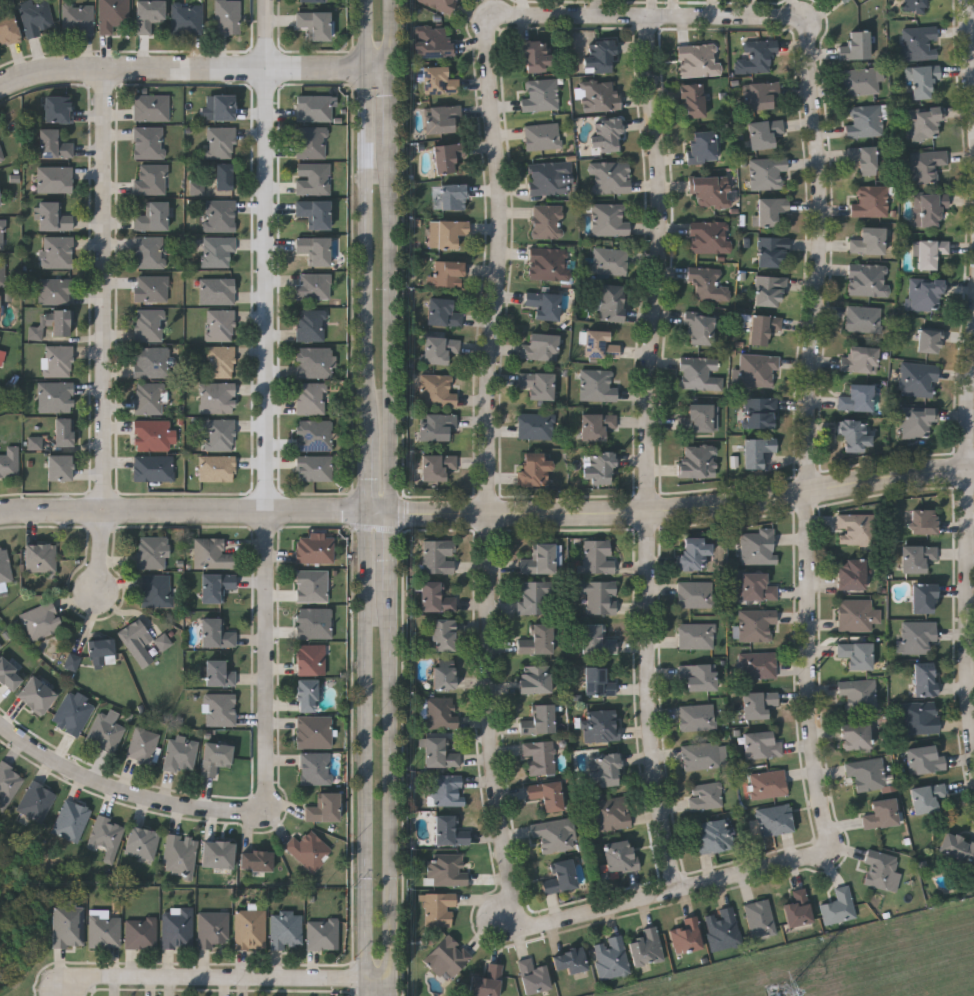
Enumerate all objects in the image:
building: (311, 0)
building: (845, 1)
building: (442, 4)
building: (915, 6)
building: (148, 14)
building: (113, 15)
building: (36, 16)
building: (228, 16)
building: (78, 18)
building: (187, 18)
road: (972, 20)
building: (315, 24)
road: (971, 27)
building: (8, 28)
road: (393, 35)
building: (434, 42)
building: (920, 43)
building: (857, 46)
building: (537, 54)
building: (602, 56)
building: (757, 56)
building: (699, 60)
road: (194, 70)
building: (440, 80)
building: (924, 80)
building: (862, 81)
building: (761, 94)
building: (541, 95)
building: (600, 95)
building: (695, 100)
building: (151, 107)
building: (224, 107)
building: (58, 108)
building: (315, 108)
road: (393, 110)
building: (442, 117)
building: (866, 120)
building: (925, 124)
building: (766, 132)
building: (607, 135)
building: (543, 136)
building: (221, 141)
building: (149, 142)
building: (312, 142)
building: (54, 144)
building: (703, 146)
building: (1, 155)
building: (449, 156)
building: (864, 158)
building: (927, 165)
building: (769, 172)
building: (224, 176)
building: (611, 177)
building: (314, 178)
building: (551, 178)
building: (55, 179)
building: (151, 179)
building: (198, 186)
building: (711, 191)
building: (455, 197)
building: (0, 198)
building: (871, 201)
building: (929, 208)
building: (771, 210)
building: (315, 212)
building: (220, 216)
building: (53, 217)
building: (152, 217)
road: (365, 217)
building: (612, 219)
building: (549, 222)
building: (448, 233)
building: (2, 234)
building: (711, 237)
building: (870, 241)
building: (315, 249)
building: (58, 252)
building: (149, 252)
building: (218, 252)
building: (774, 252)
building: (930, 252)
building: (611, 261)
building: (550, 264)
building: (3, 273)
building: (449, 274)
building: (869, 280)
building: (709, 284)
building: (313, 286)
building: (151, 289)
building: (56, 291)
building: (218, 291)
building: (771, 291)
building: (927, 295)
building: (612, 302)
building: (545, 304)
building: (0, 306)
building: (444, 313)
building: (864, 319)
building: (58, 321)
road: (495, 321)
building: (149, 325)
building: (221, 325)
building: (312, 325)
building: (764, 327)
building: (700, 329)
road: (108, 331)
road: (393, 331)
building: (0, 336)
building: (0, 338)
building: (930, 340)
building: (601, 344)
building: (542, 347)
building: (441, 349)
building: (2, 358)
building: (861, 359)
building: (59, 360)
building: (220, 361)
building: (152, 362)
building: (315, 362)
building: (759, 370)
building: (701, 373)
building: (919, 379)
building: (539, 384)
building: (598, 384)
building: (438, 390)
building: (56, 396)
building: (150, 398)
building: (217, 398)
building: (312, 398)
building: (858, 398)
road: (272, 410)
building: (761, 412)
building: (701, 417)
building: (917, 421)
building: (437, 425)
building: (537, 425)
building: (598, 425)
building: (64, 431)
building: (221, 434)
building: (857, 434)
building: (154, 435)
building: (314, 435)
building: (36, 443)
building: (758, 451)
road: (651, 454)
building: (699, 460)
building: (10, 462)
building: (438, 465)
building: (59, 466)
building: (599, 467)
building: (154, 468)
building: (217, 468)
building: (314, 468)
building: (535, 468)
road: (365, 474)
road: (684, 508)
road: (182, 510)
road: (379, 513)
building: (925, 520)
building: (857, 529)
road: (971, 537)
building: (759, 546)
building: (315, 548)
building: (153, 551)
road: (393, 551)
building: (212, 553)
building: (694, 553)
building: (439, 556)
building: (599, 556)
building: (41, 557)
building: (917, 557)
building: (541, 559)
building: (5, 565)
building: (852, 575)
road: (811, 584)
building: (311, 585)
building: (217, 586)
building: (756, 586)
building: (157, 590)
building: (696, 594)
building: (600, 596)
building: (436, 597)
building: (536, 597)
building: (925, 598)
building: (857, 614)
building: (41, 620)
building: (314, 623)
building: (757, 624)
building: (216, 633)
building: (445, 635)
building: (697, 635)
building: (918, 636)
building: (163, 640)
building: (539, 640)
building: (598, 640)
building: (138, 641)
building: (0, 647)
building: (102, 651)
building: (857, 654)
building: (311, 659)
building: (74, 662)
building: (759, 664)
building: (8, 674)
building: (219, 674)
building: (699, 676)
building: (445, 677)
building: (926, 678)
building: (536, 679)
building: (599, 682)
building: (37, 695)
building: (307, 695)
building: (859, 695)
building: (759, 704)
building: (220, 709)
building: (440, 712)
building: (72, 714)
building: (698, 717)
building: (920, 717)
building: (541, 720)
building: (603, 726)
building: (313, 731)
building: (105, 732)
building: (857, 736)
building: (763, 744)
building: (143, 745)
building: (181, 753)
building: (440, 753)
road: (365, 754)
building: (705, 755)
building: (215, 757)
building: (541, 757)
building: (925, 759)
building: (316, 768)
building: (605, 770)
building: (866, 773)
building: (8, 783)
building: (769, 784)
building: (447, 789)
road: (393, 792)
building: (547, 794)
building: (706, 795)
road: (126, 797)
building: (928, 797)
building: (37, 801)
building: (324, 807)
building: (882, 813)
building: (612, 814)
building: (775, 819)
building: (71, 821)
building: (451, 831)
building: (107, 835)
building: (556, 835)
building: (716, 835)
building: (142, 843)
building: (958, 848)
building: (309, 850)
building: (180, 854)
building: (218, 854)
building: (620, 856)
building: (257, 860)
building: (449, 870)
building: (883, 870)
building: (562, 877)
building: (840, 906)
building: (440, 909)
building: (799, 910)
building: (761, 918)
building: (68, 926)
building: (178, 928)
building: (724, 928)
building: (214, 929)
building: (104, 930)
building: (251, 930)
building: (286, 930)
building: (141, 933)
building: (323, 934)
building: (688, 937)
building: (647, 947)
building: (612, 957)
building: (448, 958)
building: (572, 960)
building: (534, 976)
road: (227, 978)
building: (488, 982)
power tower: (786, 991)

